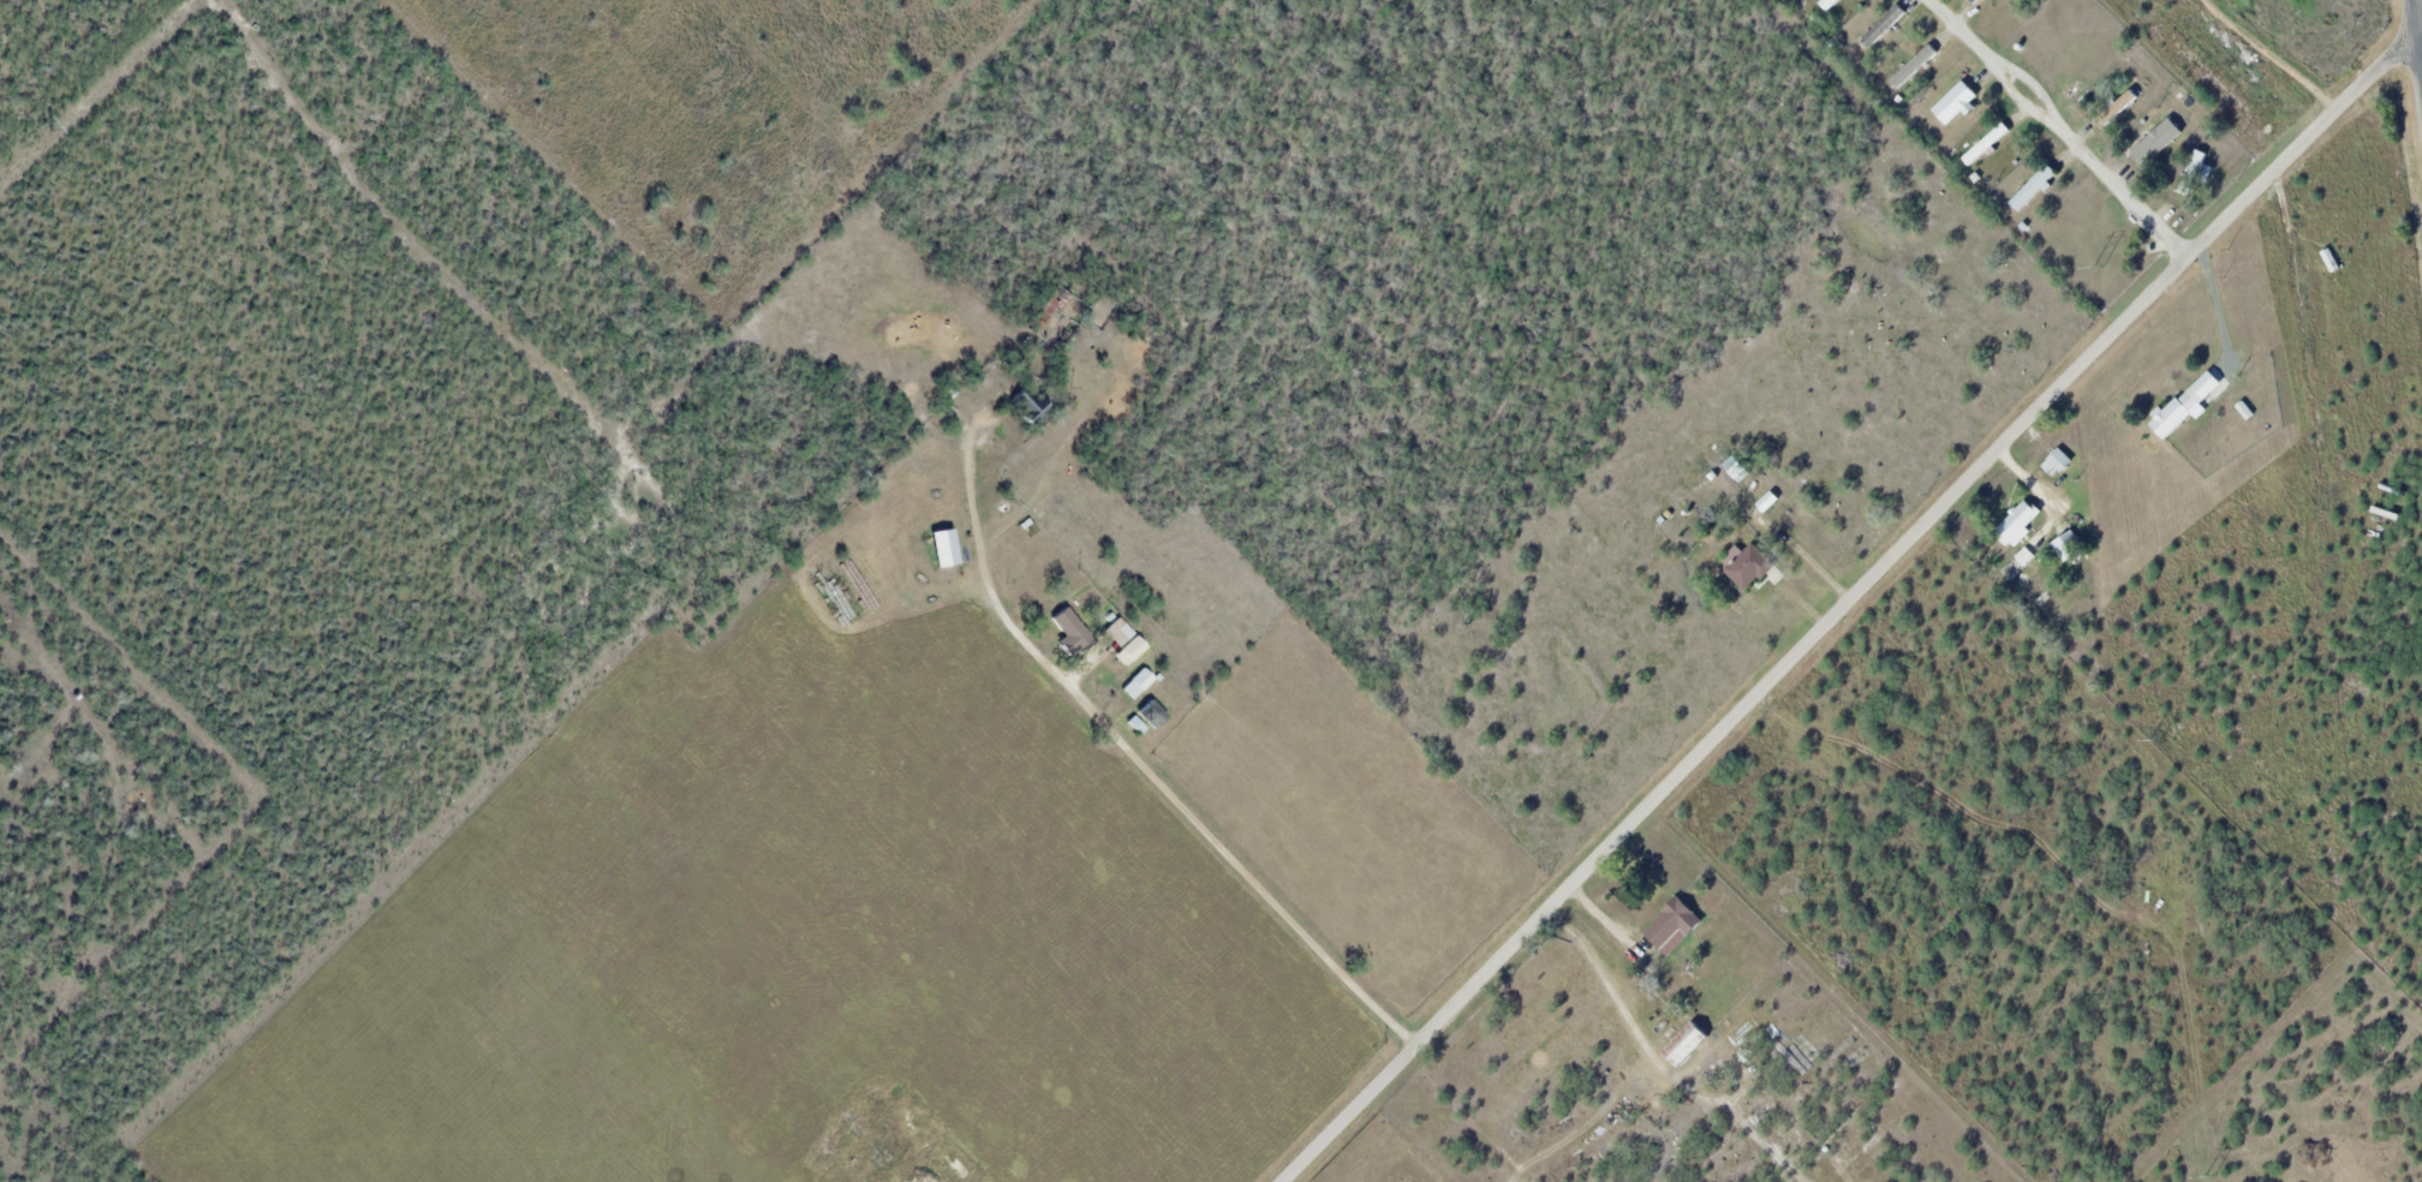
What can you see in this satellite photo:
building: (1974, 1)
building: (1830, 4)
road: (2421, 5)
building: (1884, 25)
building: (1911, 70)
building: (1957, 103)
building: (2119, 108)
power tower: (44, 126)
road: (2064, 127)
building: (2165, 138)
building: (1989, 145)
building: (2194, 173)
building: (2035, 187)
power tower: (2098, 267)
road: (2214, 306)
building: (2196, 400)
building: (1025, 405)
building: (2059, 464)
building: (2021, 521)
building: (945, 547)
building: (2071, 547)
building: (1750, 567)
road: (1850, 598)
building: (1070, 629)
building: (1118, 631)
building: (1137, 682)
building: (1151, 714)
power tower: (2155, 739)
road: (1137, 775)
building: (1675, 923)
building: (1688, 1044)
power tower: (2208, 1176)
road: (933, 1177)

